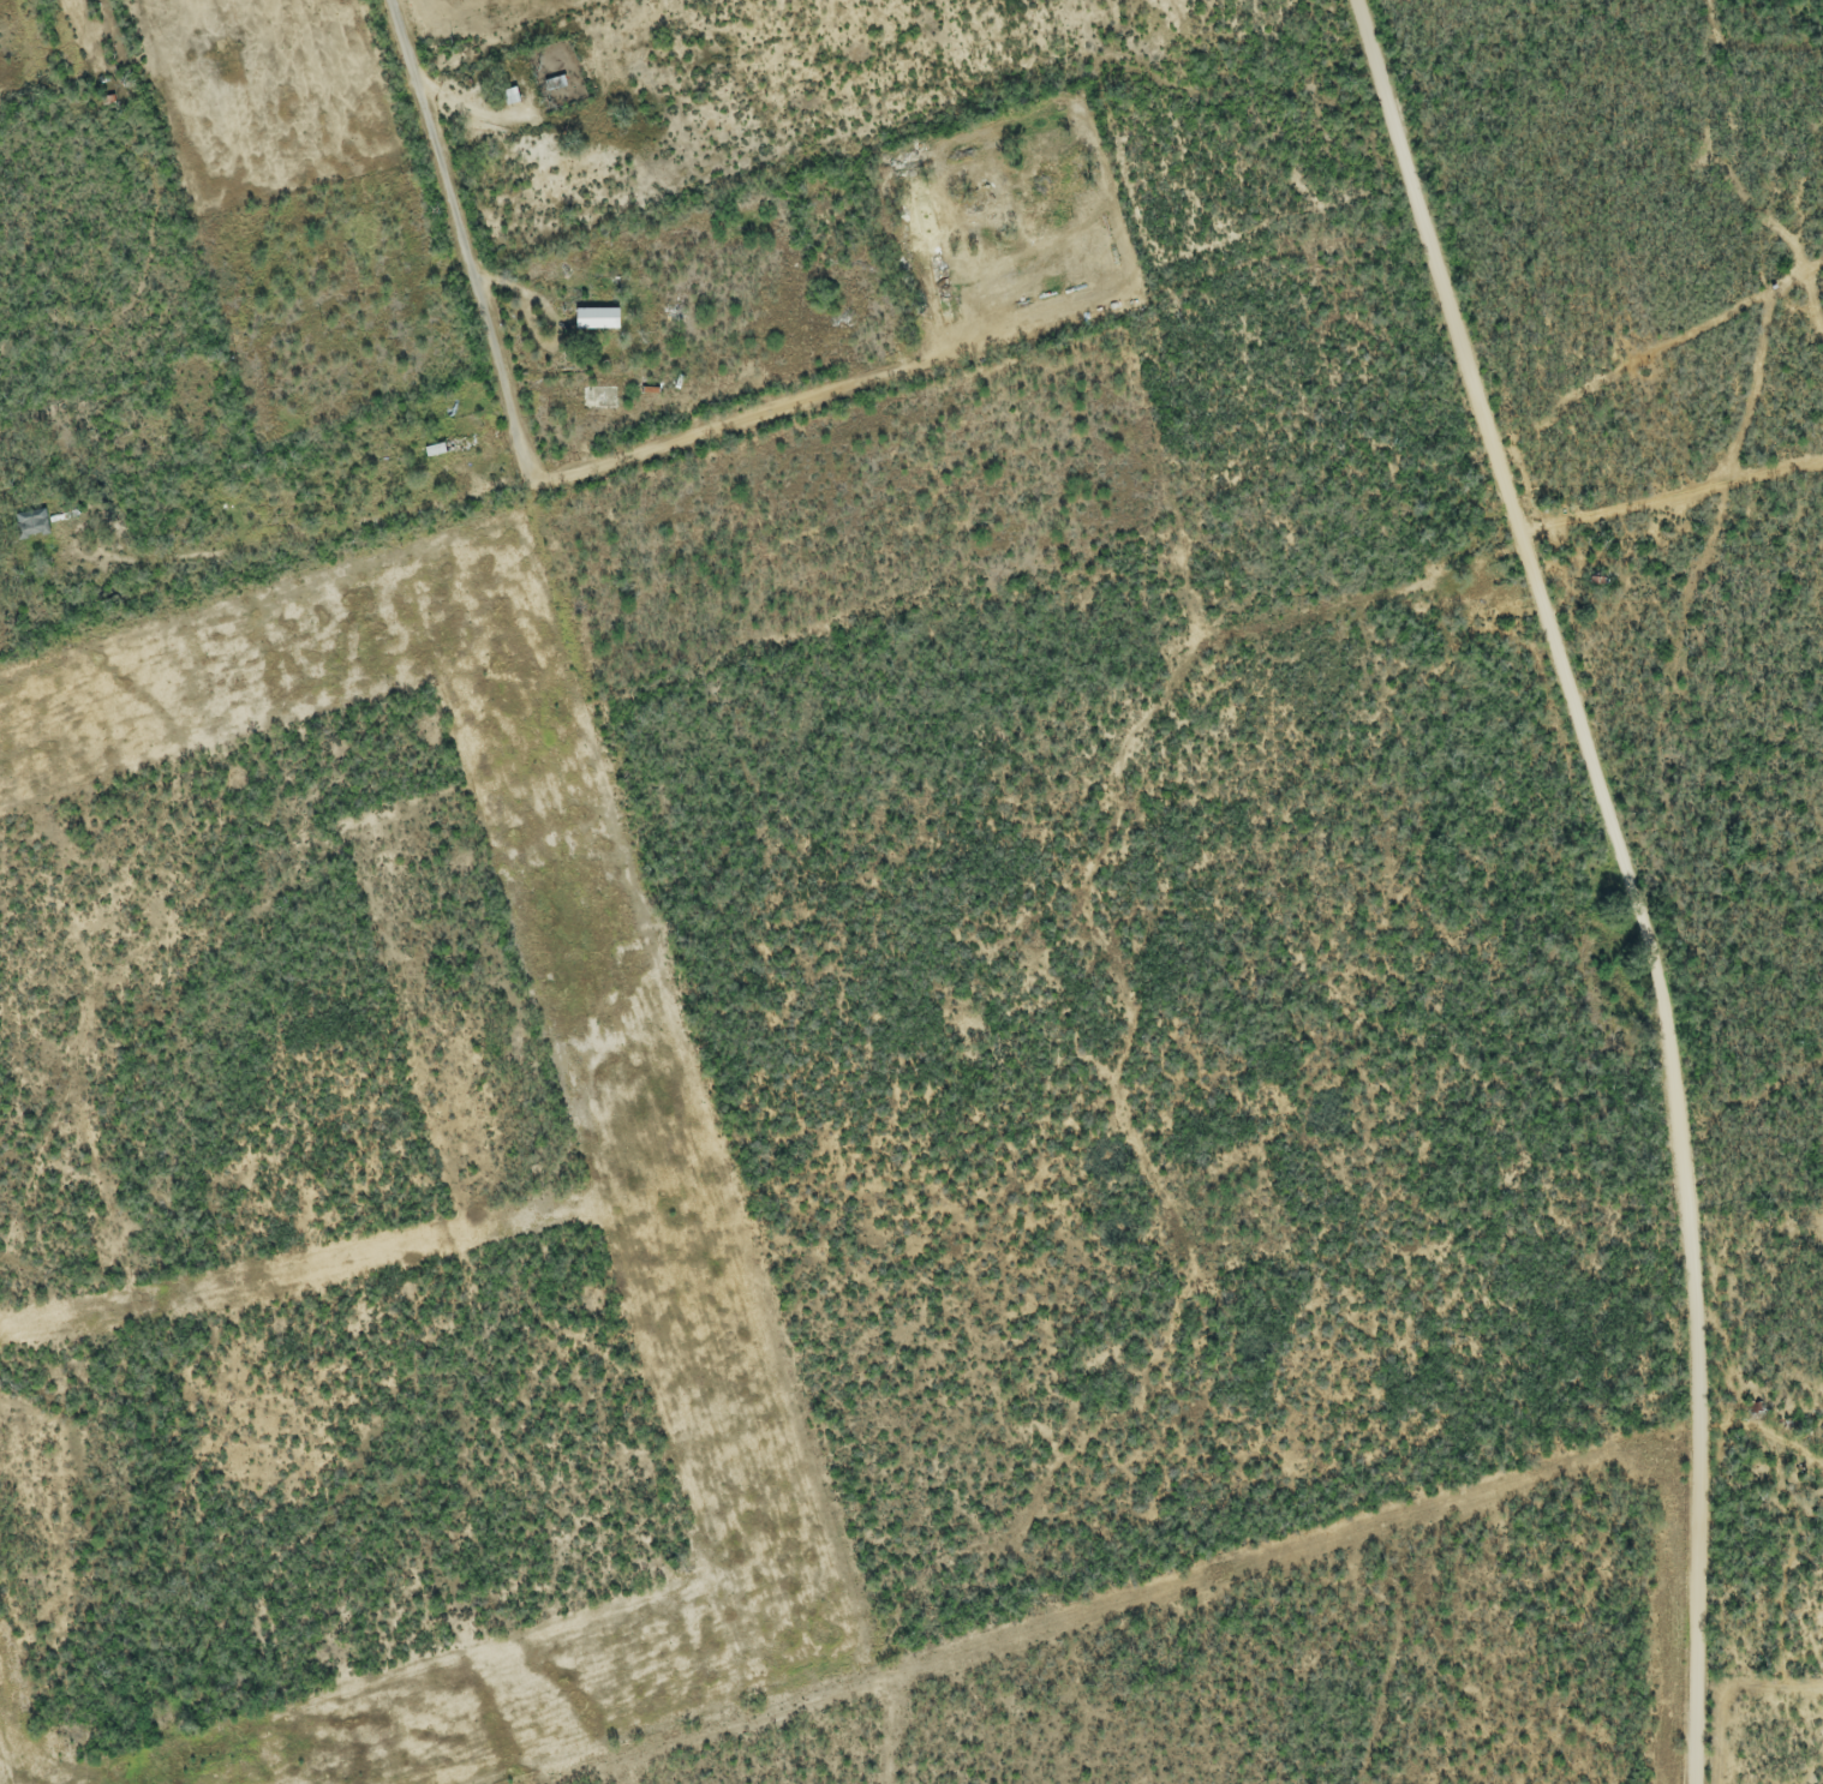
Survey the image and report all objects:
building: (509, 98)
road: (459, 239)
building: (594, 322)
building: (31, 525)
road: (1627, 874)

